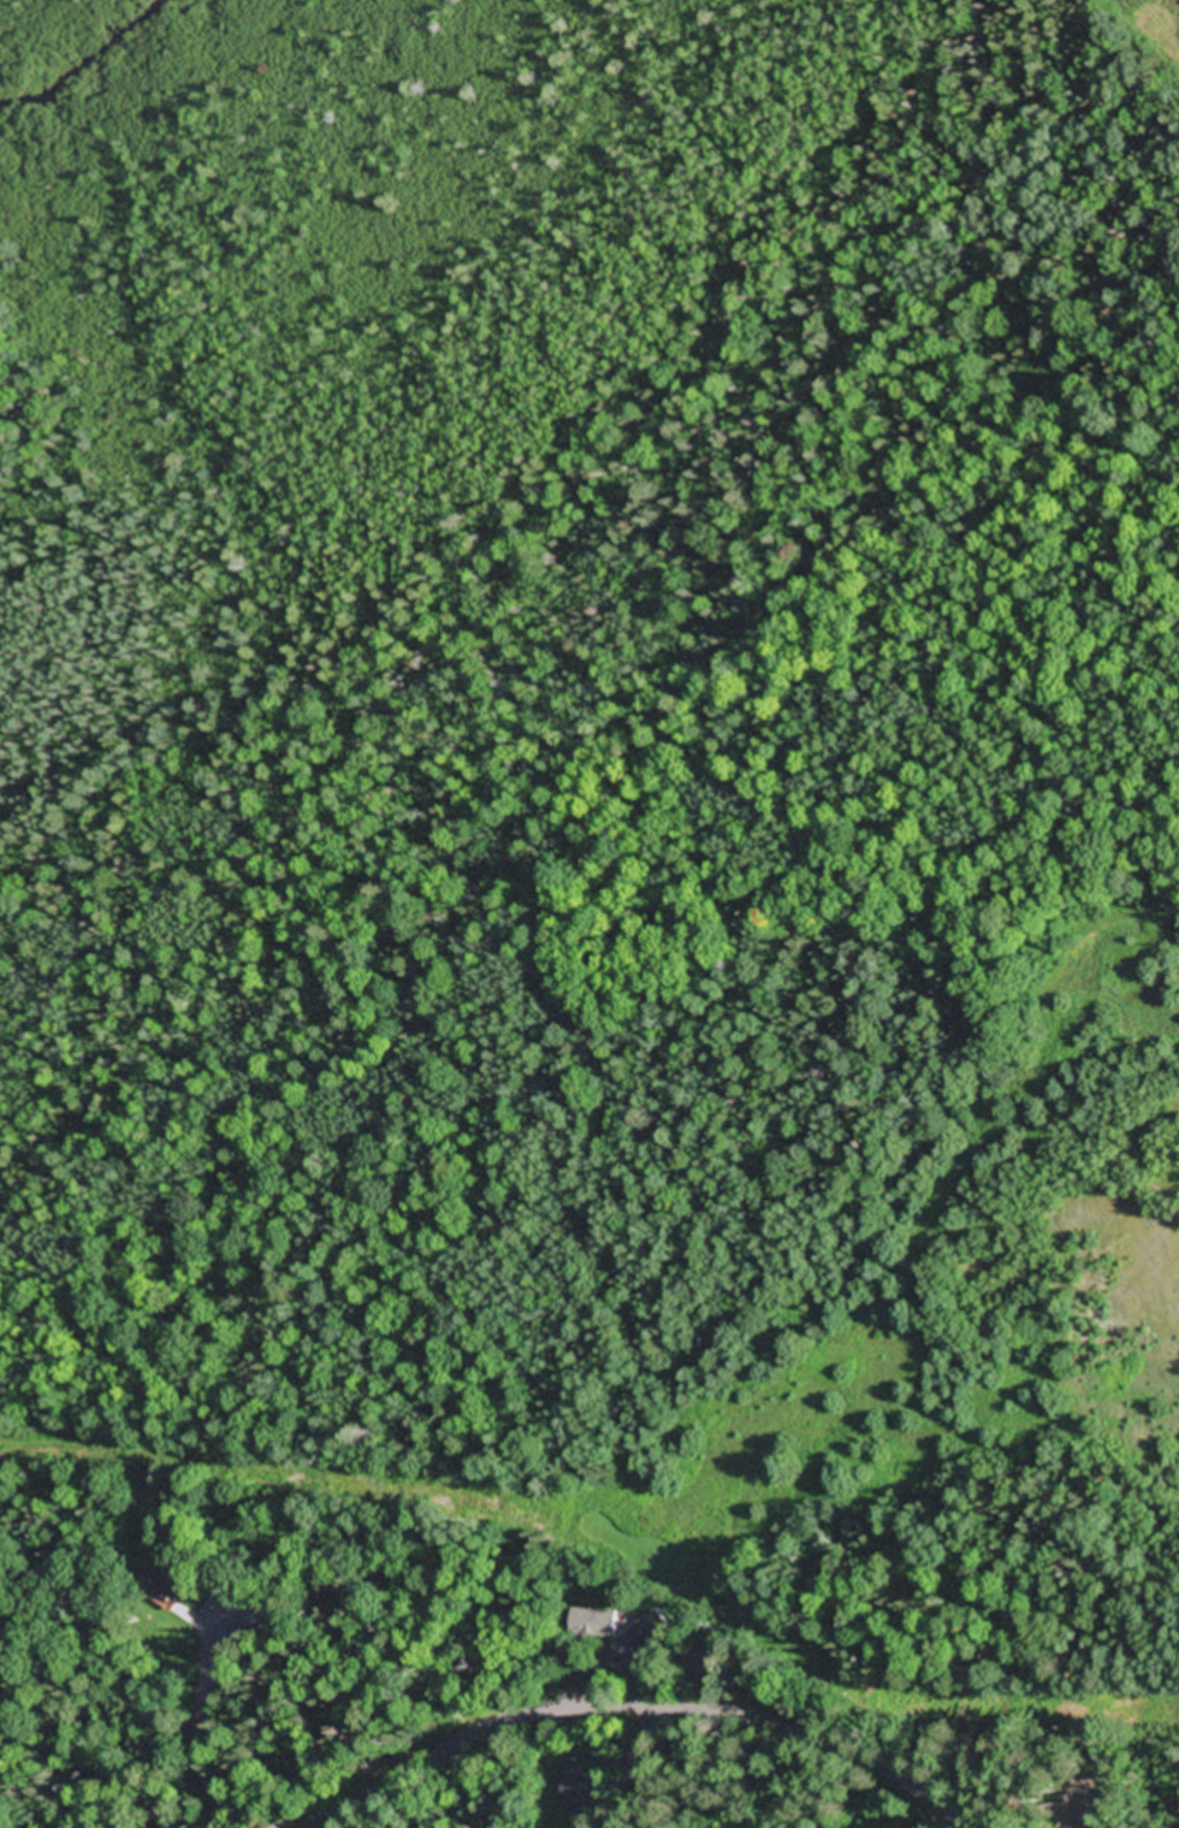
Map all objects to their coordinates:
building: (170, 1591)
building: (594, 1626)
building: (653, 1631)
road: (656, 1711)
building: (648, 1770)
road: (6, 1781)
building: (589, 1793)

